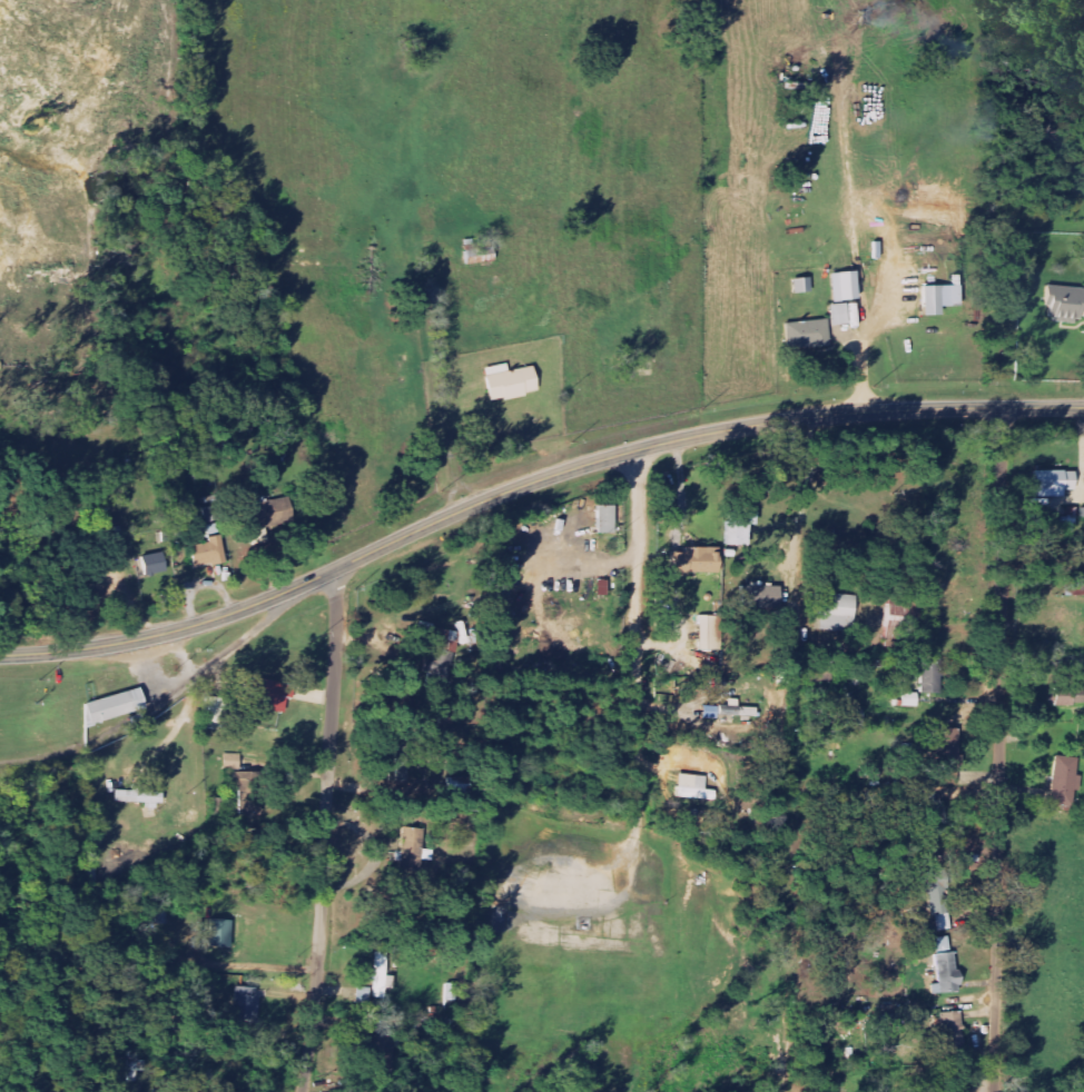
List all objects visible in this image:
building: (847, 287)
building: (935, 300)
building: (1066, 302)
building: (841, 314)
building: (809, 334)
building: (513, 383)
building: (1057, 483)
road: (530, 484)
road: (681, 492)
road: (806, 494)
building: (214, 518)
building: (609, 519)
road: (875, 519)
building: (150, 549)
building: (210, 553)
building: (699, 562)
building: (155, 564)
building: (762, 597)
building: (840, 612)
building: (711, 633)
road: (235, 645)
building: (443, 658)
building: (711, 659)
building: (1078, 666)
building: (933, 674)
building: (274, 695)
building: (1071, 696)
building: (117, 706)
building: (738, 709)
building: (216, 712)
building: (712, 712)
road: (999, 748)
building: (952, 751)
road: (35, 757)
building: (234, 762)
building: (1066, 782)
building: (698, 788)
building: (248, 791)
building: (144, 797)
road: (324, 830)
building: (223, 933)
building: (942, 966)
building: (383, 975)
building: (248, 1002)
building: (949, 1030)
road: (985, 1083)

